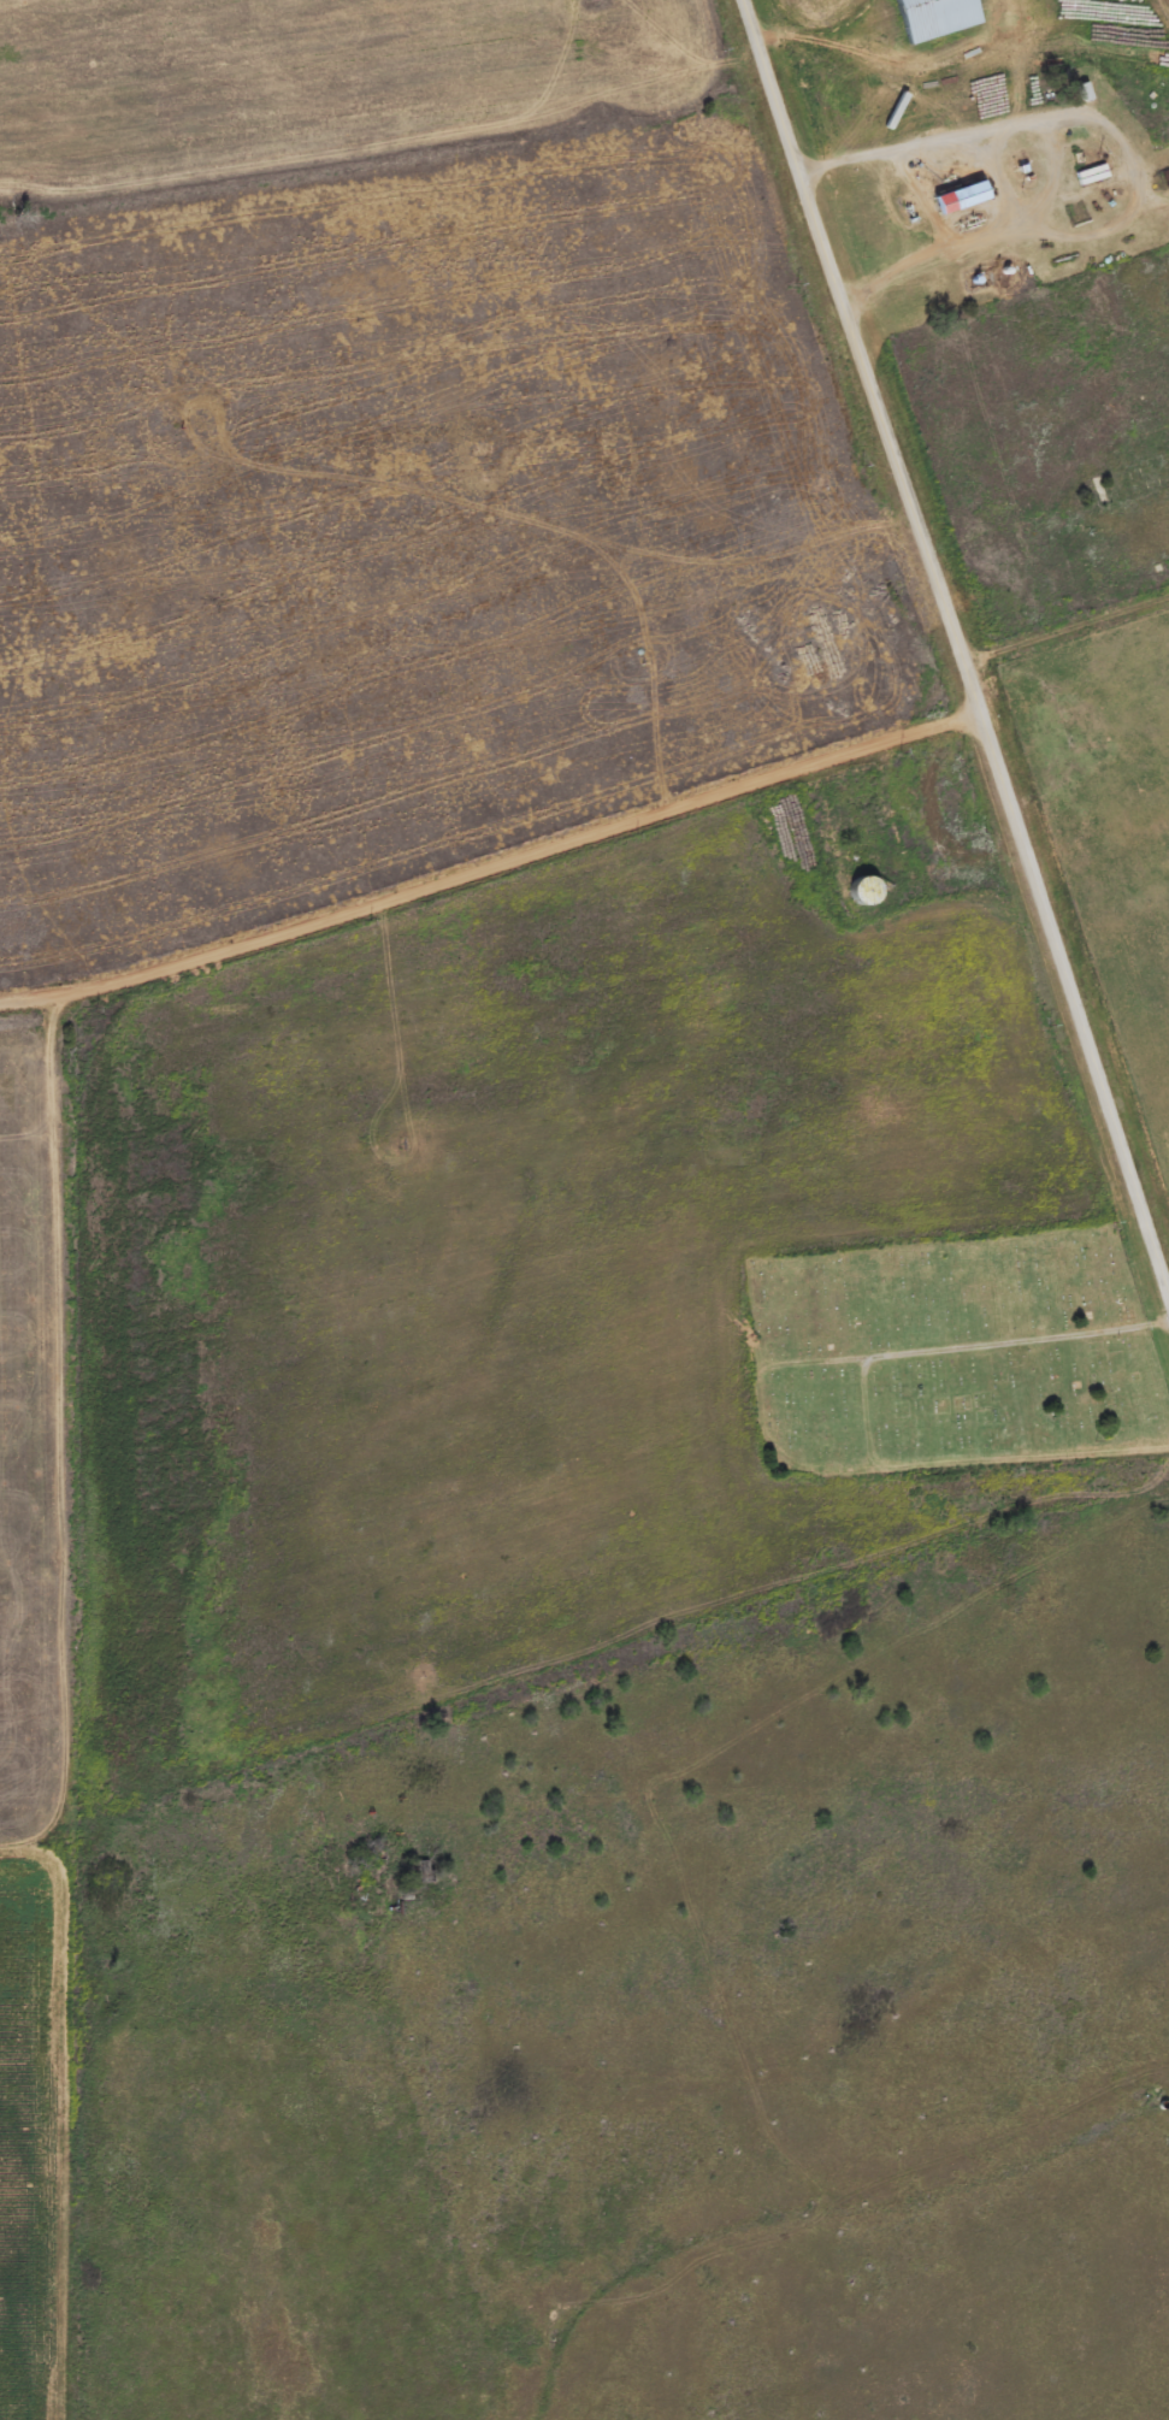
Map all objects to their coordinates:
building: (940, 17)
building: (1094, 176)
building: (967, 197)
road: (178, 265)
road: (962, 643)
road: (495, 864)
building: (870, 891)
park: (960, 1353)
building: (19, 1612)
road: (25, 1864)
road: (171, 1879)

